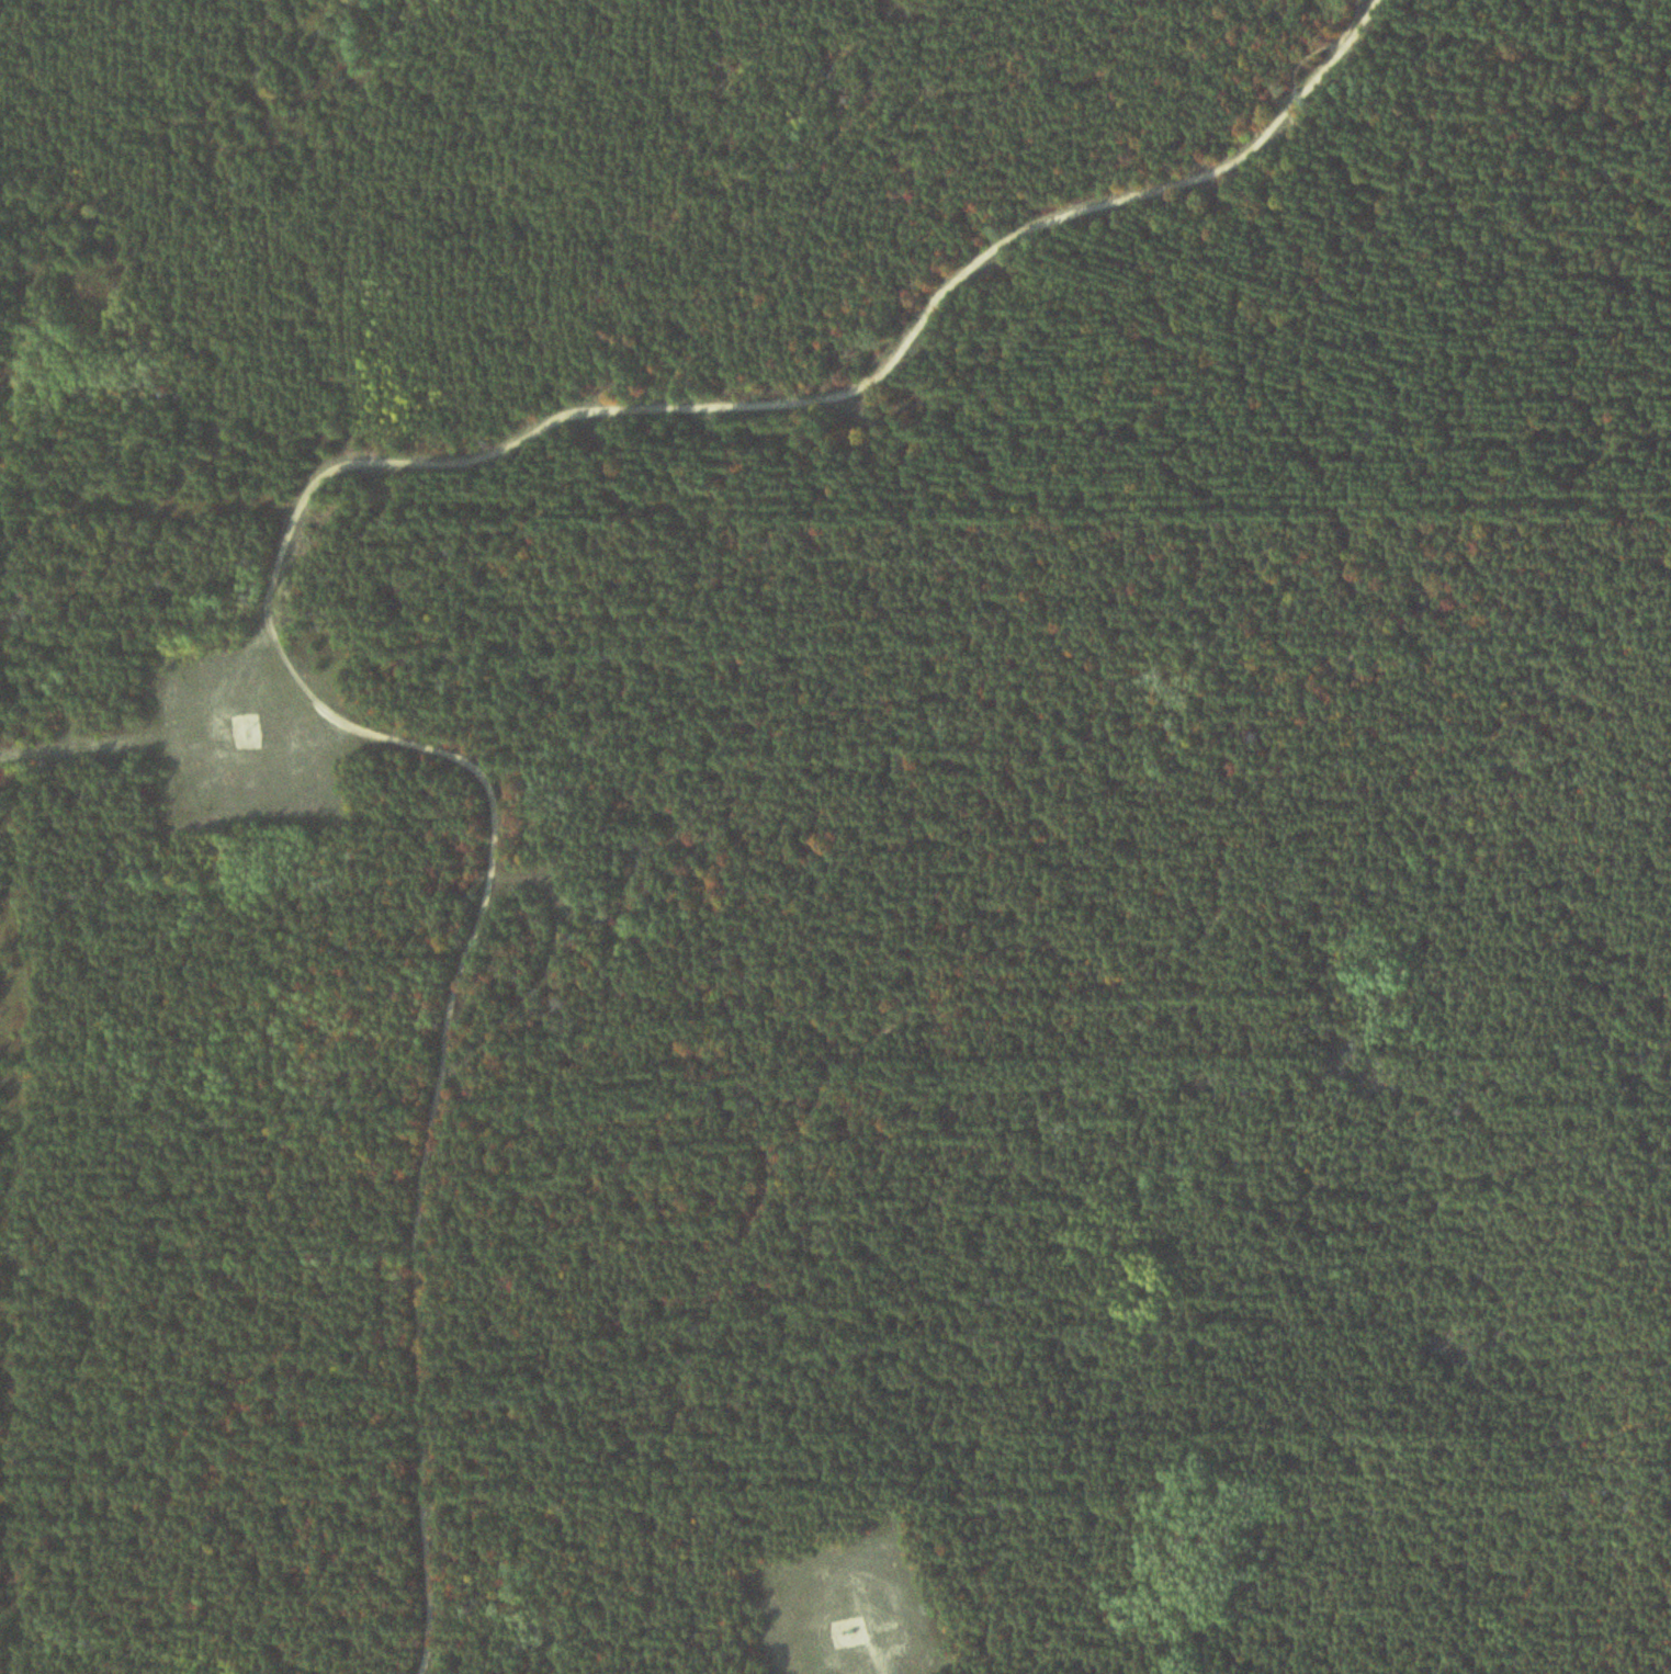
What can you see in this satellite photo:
road: (839, 388)
road: (162, 725)
road: (1184, 951)
road: (437, 1081)
petroleum well: (860, 1622)

